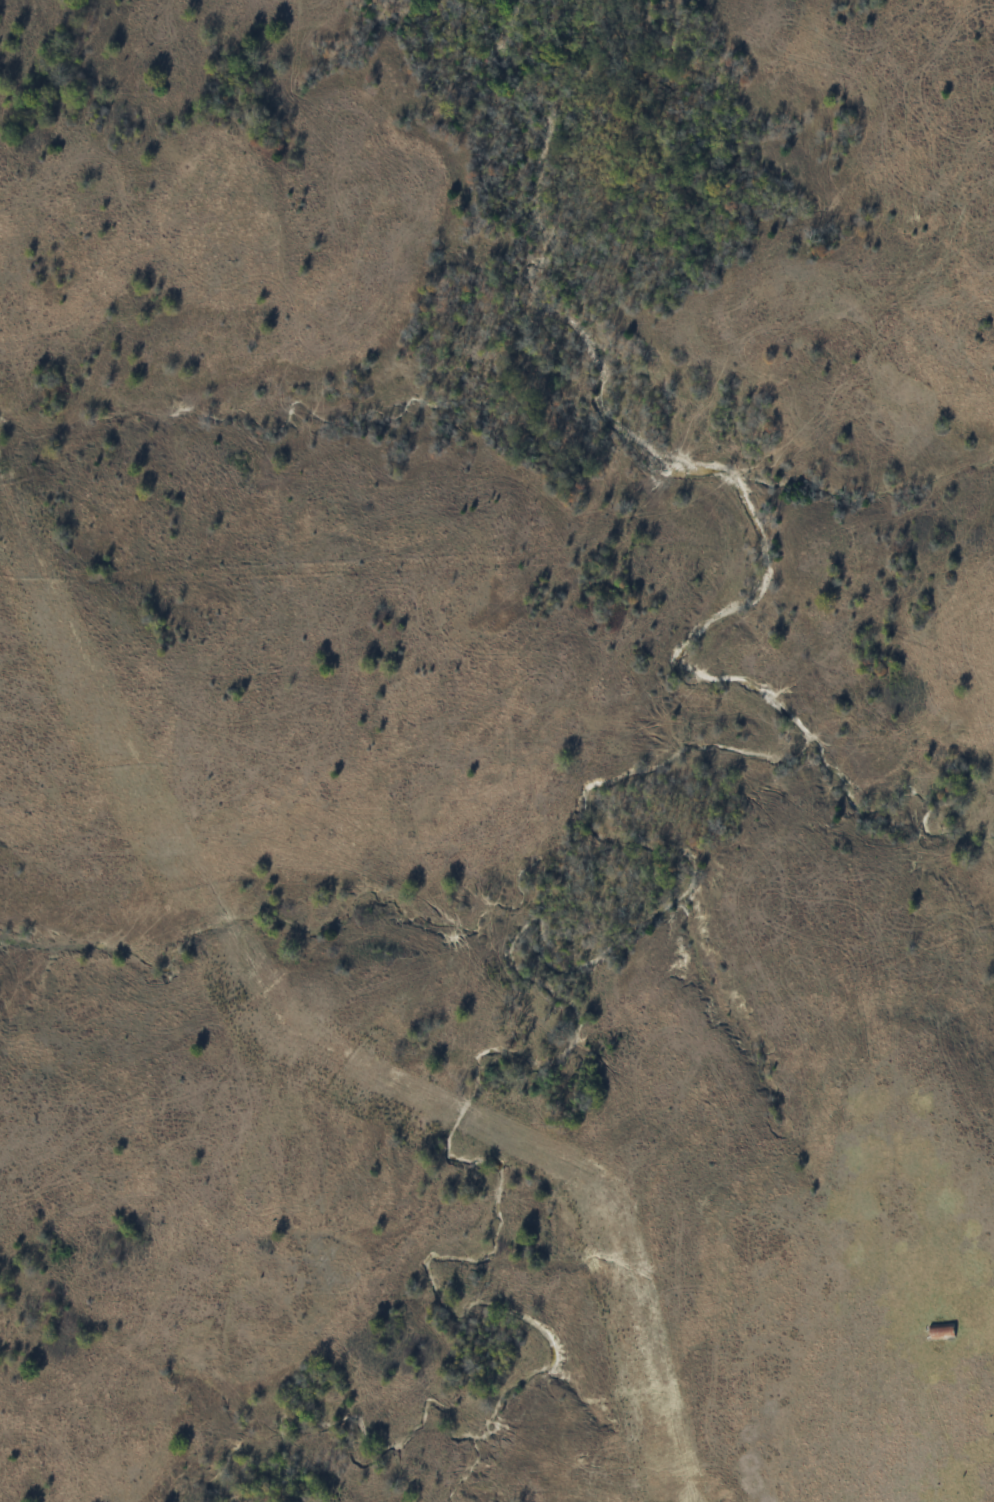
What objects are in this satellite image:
building: (940, 1333)

